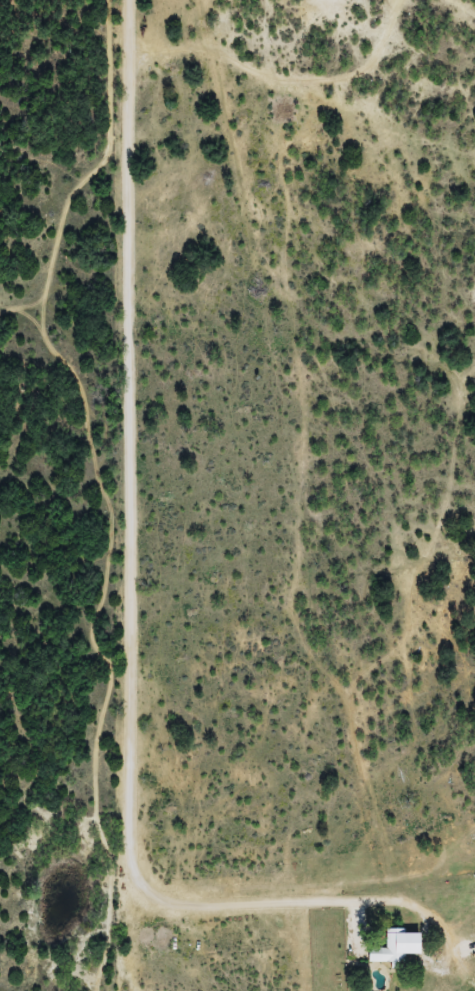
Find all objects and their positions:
building: (399, 947)

